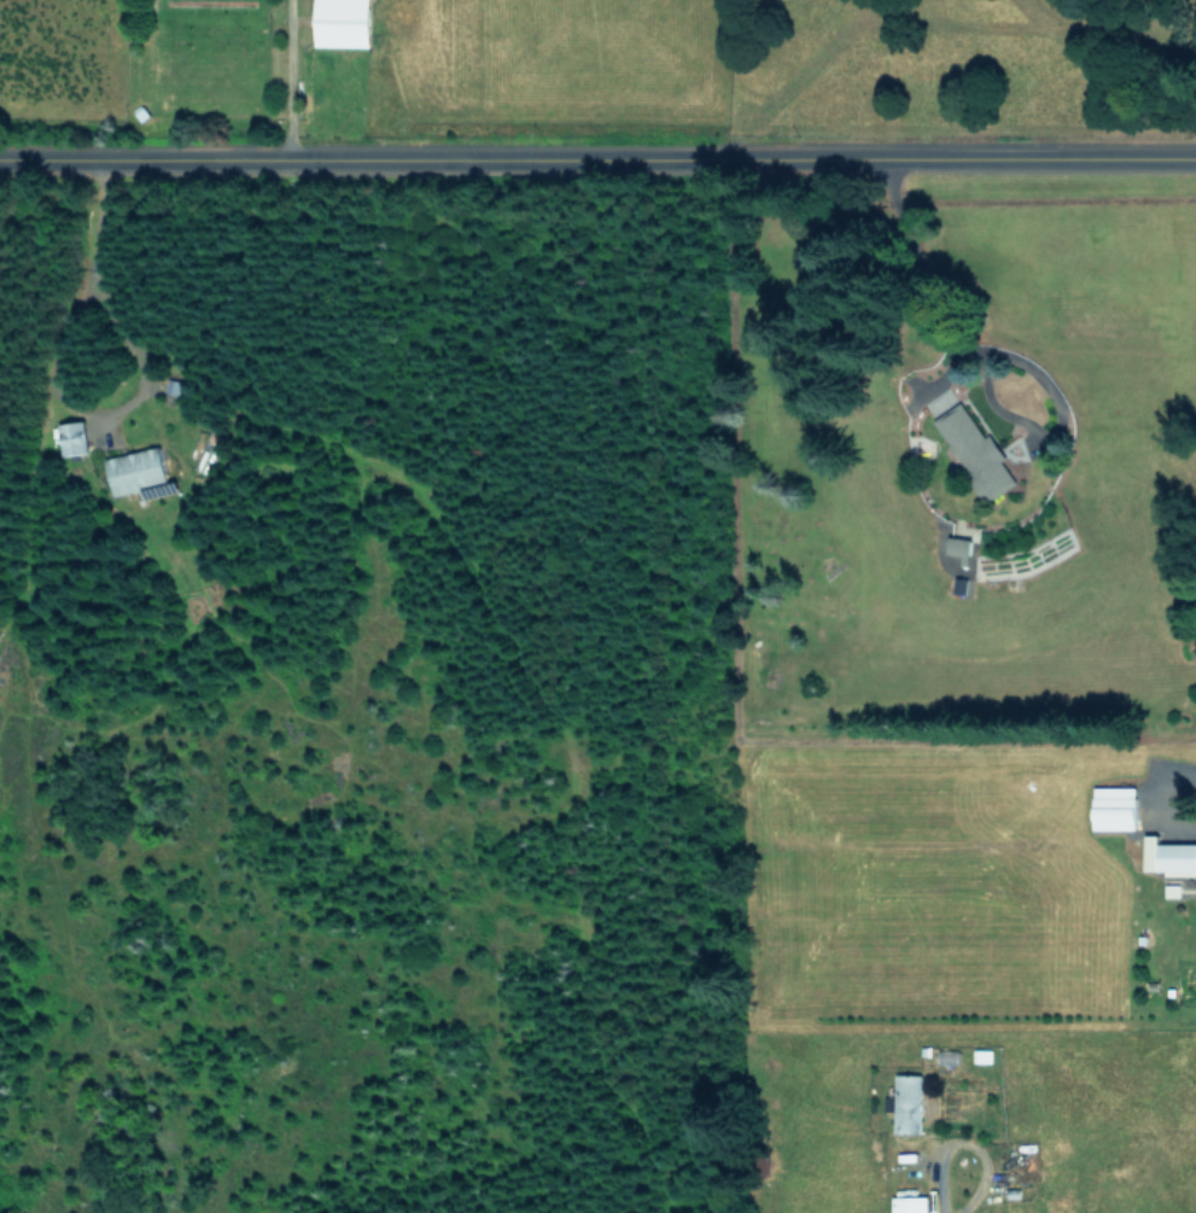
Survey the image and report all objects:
building: (339, 22)
road: (280, 76)
road: (597, 152)
road: (95, 292)
road: (994, 350)
building: (72, 437)
building: (974, 451)
building: (136, 472)
building: (958, 548)
building: (1113, 806)
building: (1168, 856)
building: (981, 1055)
building: (906, 1103)
road: (963, 1133)
building: (908, 1203)
road: (933, 1211)

